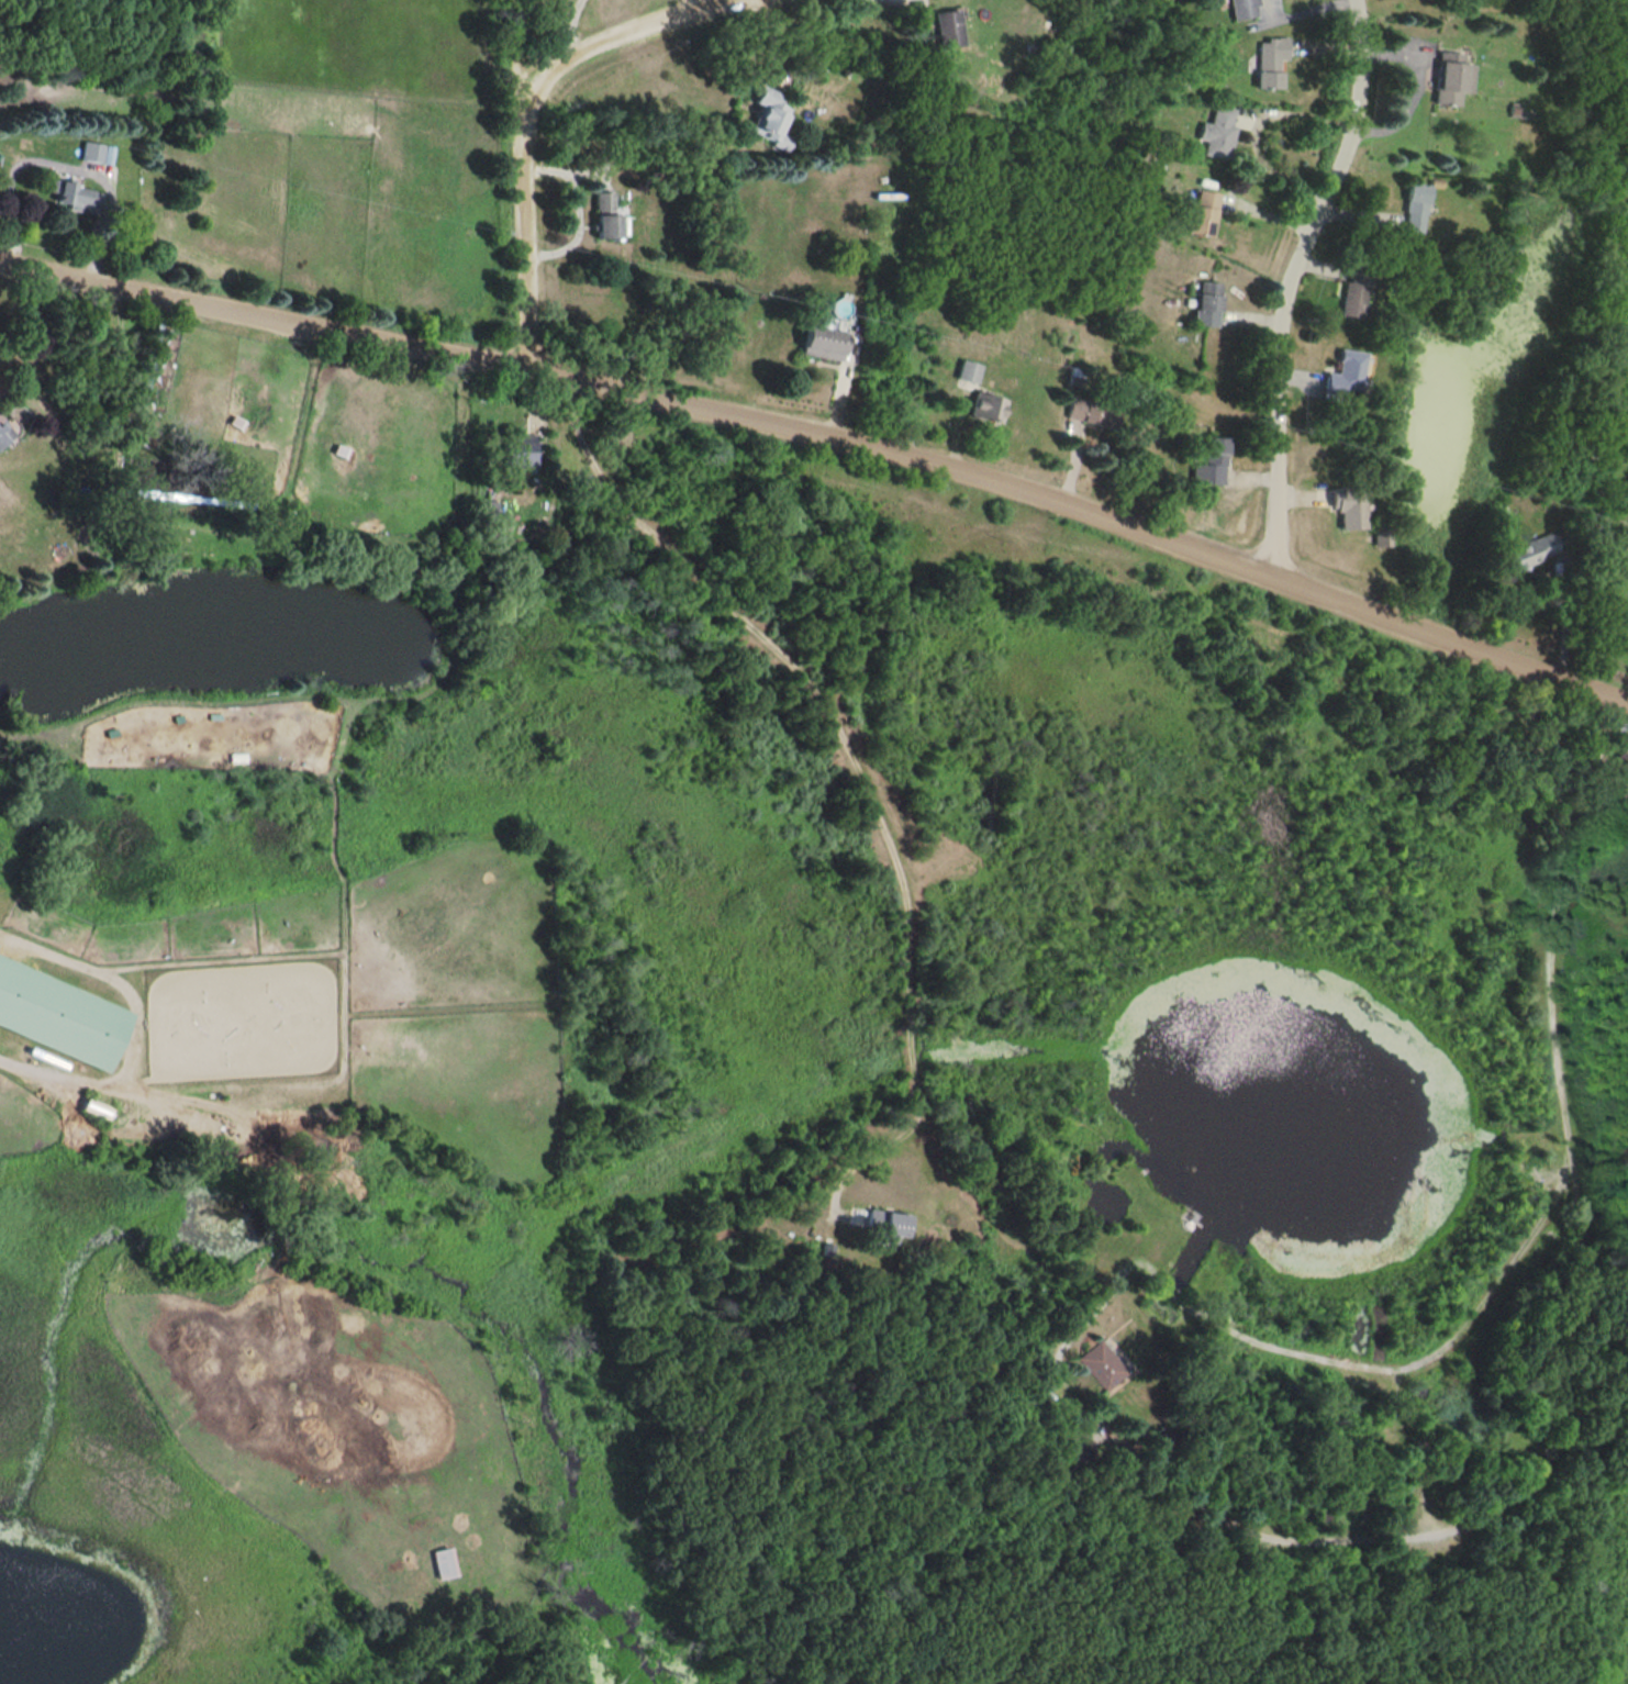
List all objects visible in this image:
building: (1241, 9)
road: (572, 26)
building: (947, 29)
road: (514, 60)
building: (1269, 60)
building: (1452, 77)
road: (1416, 83)
building: (768, 120)
road: (1252, 126)
building: (1218, 131)
road: (526, 140)
building: (91, 150)
road: (65, 158)
building: (73, 196)
building: (1415, 207)
road: (578, 208)
building: (1200, 212)
building: (610, 216)
road: (1286, 282)
building: (1356, 290)
building: (1208, 303)
building: (824, 341)
building: (968, 371)
building: (1347, 372)
building: (986, 408)
building: (1092, 412)
building: (2, 434)
road: (826, 436)
building: (522, 448)
building: (1213, 462)
building: (1348, 506)
building: (1530, 550)
road: (1561, 614)
building: (1627, 623)
building: (1623, 747)
road: (865, 771)
building: (58, 1014)
building: (887, 1224)
building: (1103, 1364)
building: (1070, 1450)
road: (1334, 1537)
building: (442, 1562)

